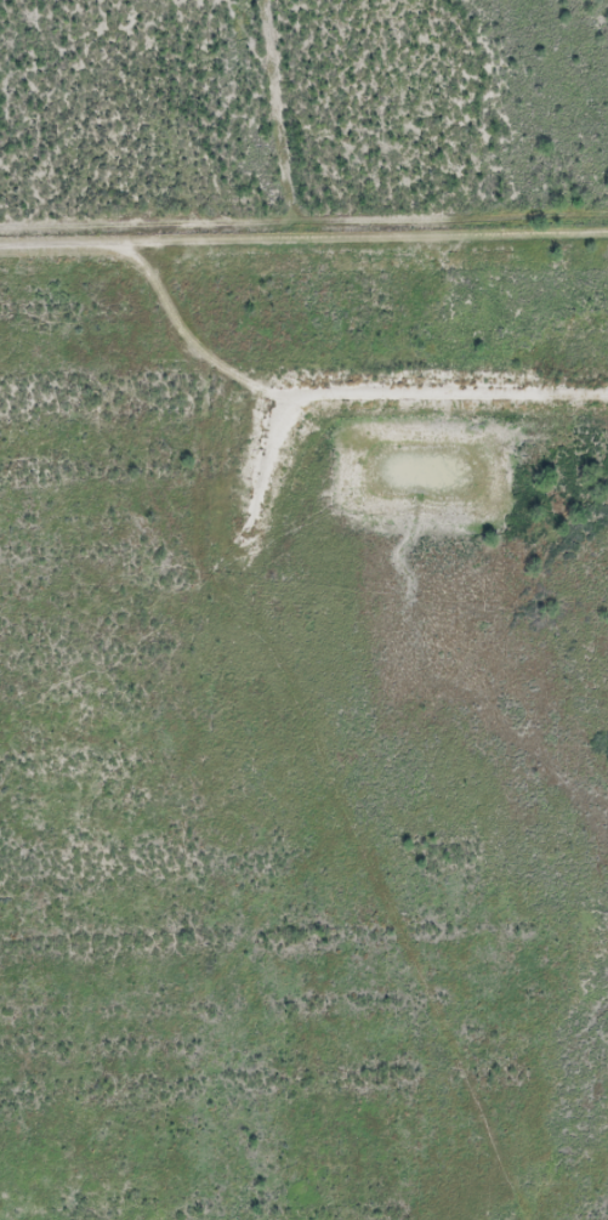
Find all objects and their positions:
road: (303, 244)

